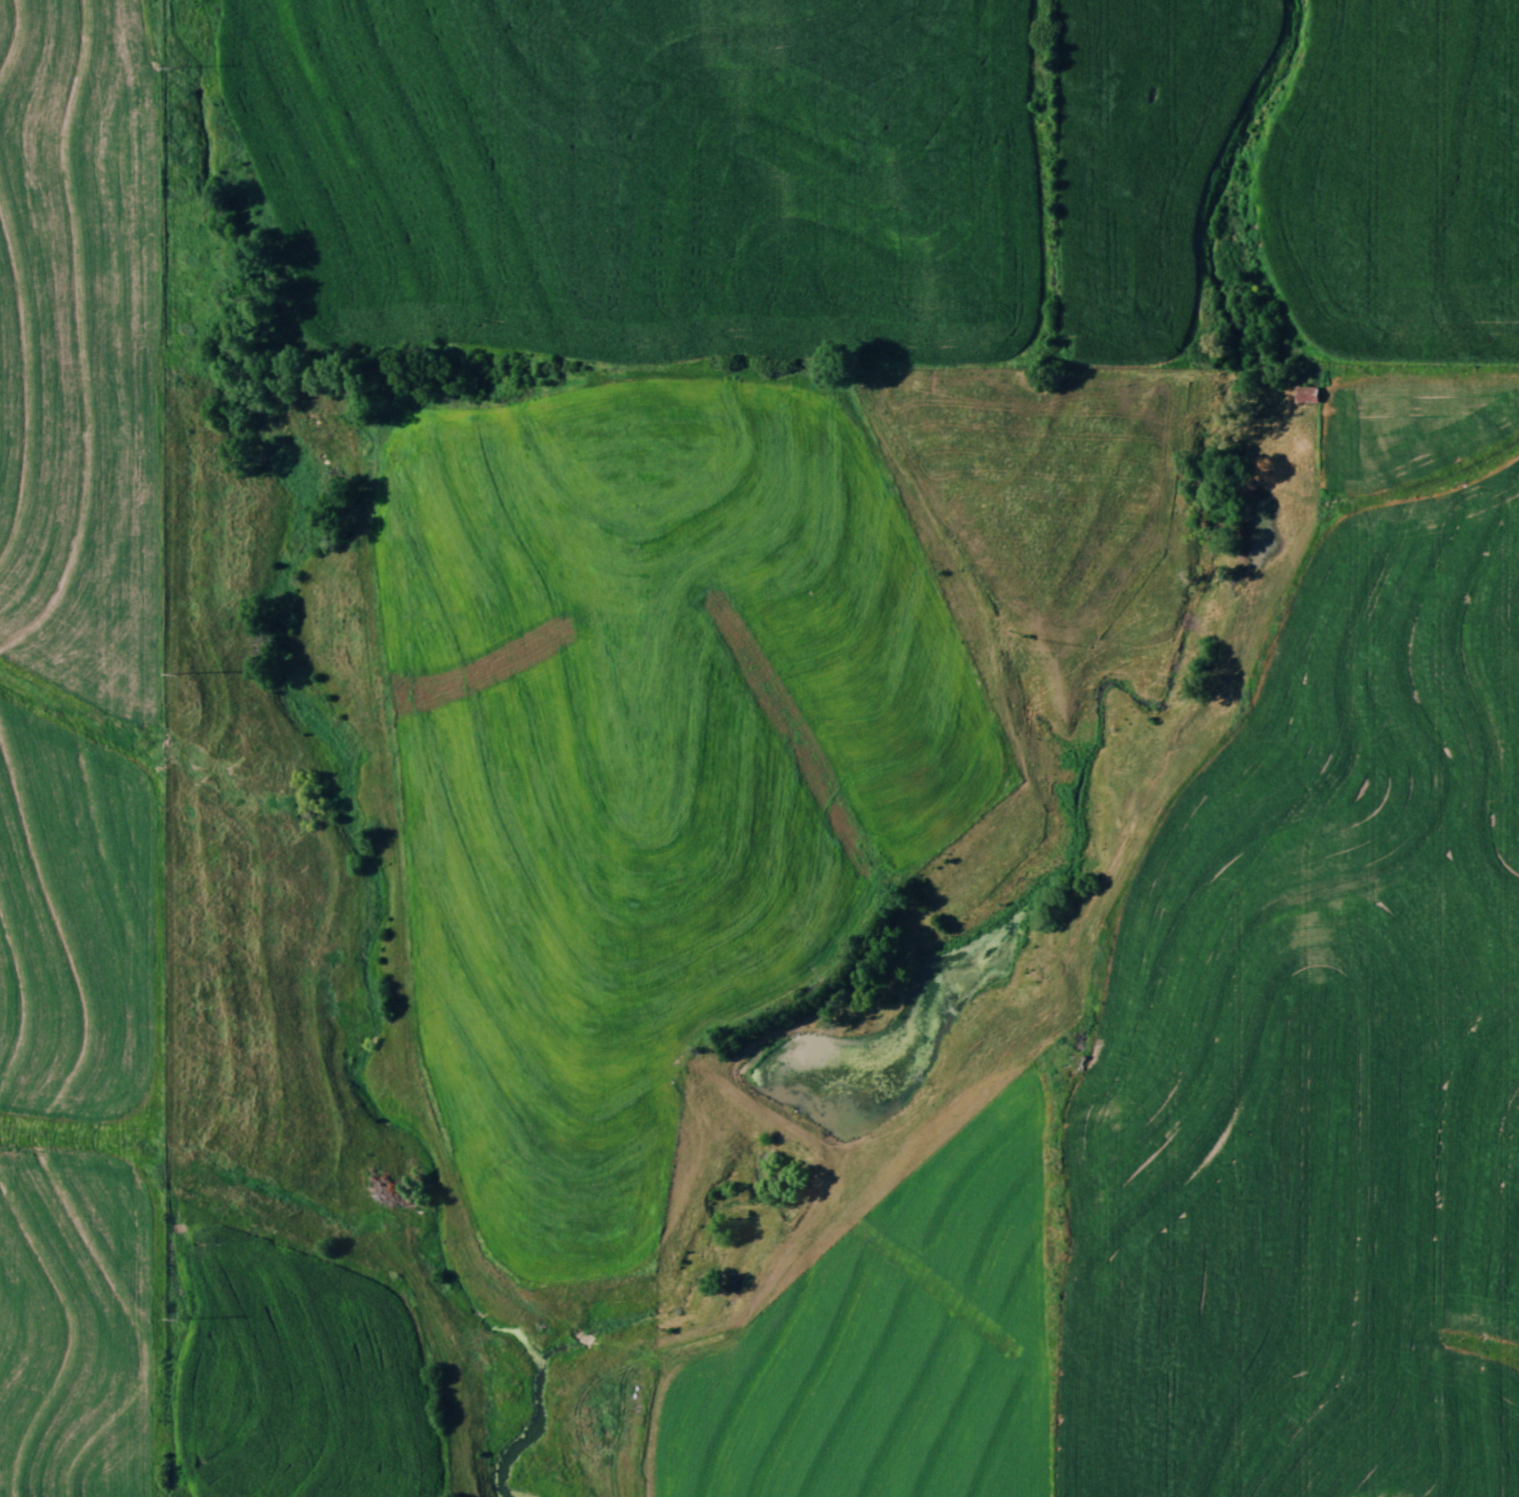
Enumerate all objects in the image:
building: (1305, 394)

